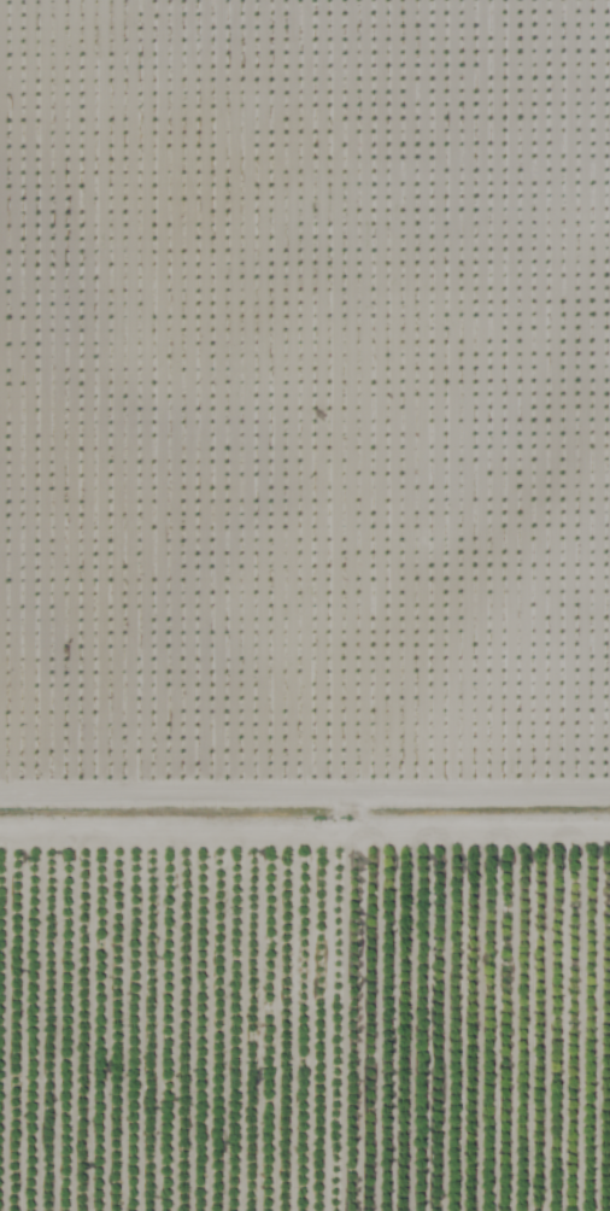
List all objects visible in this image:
crop: (305, 605)
road: (305, 872)
road: (350, 1042)

